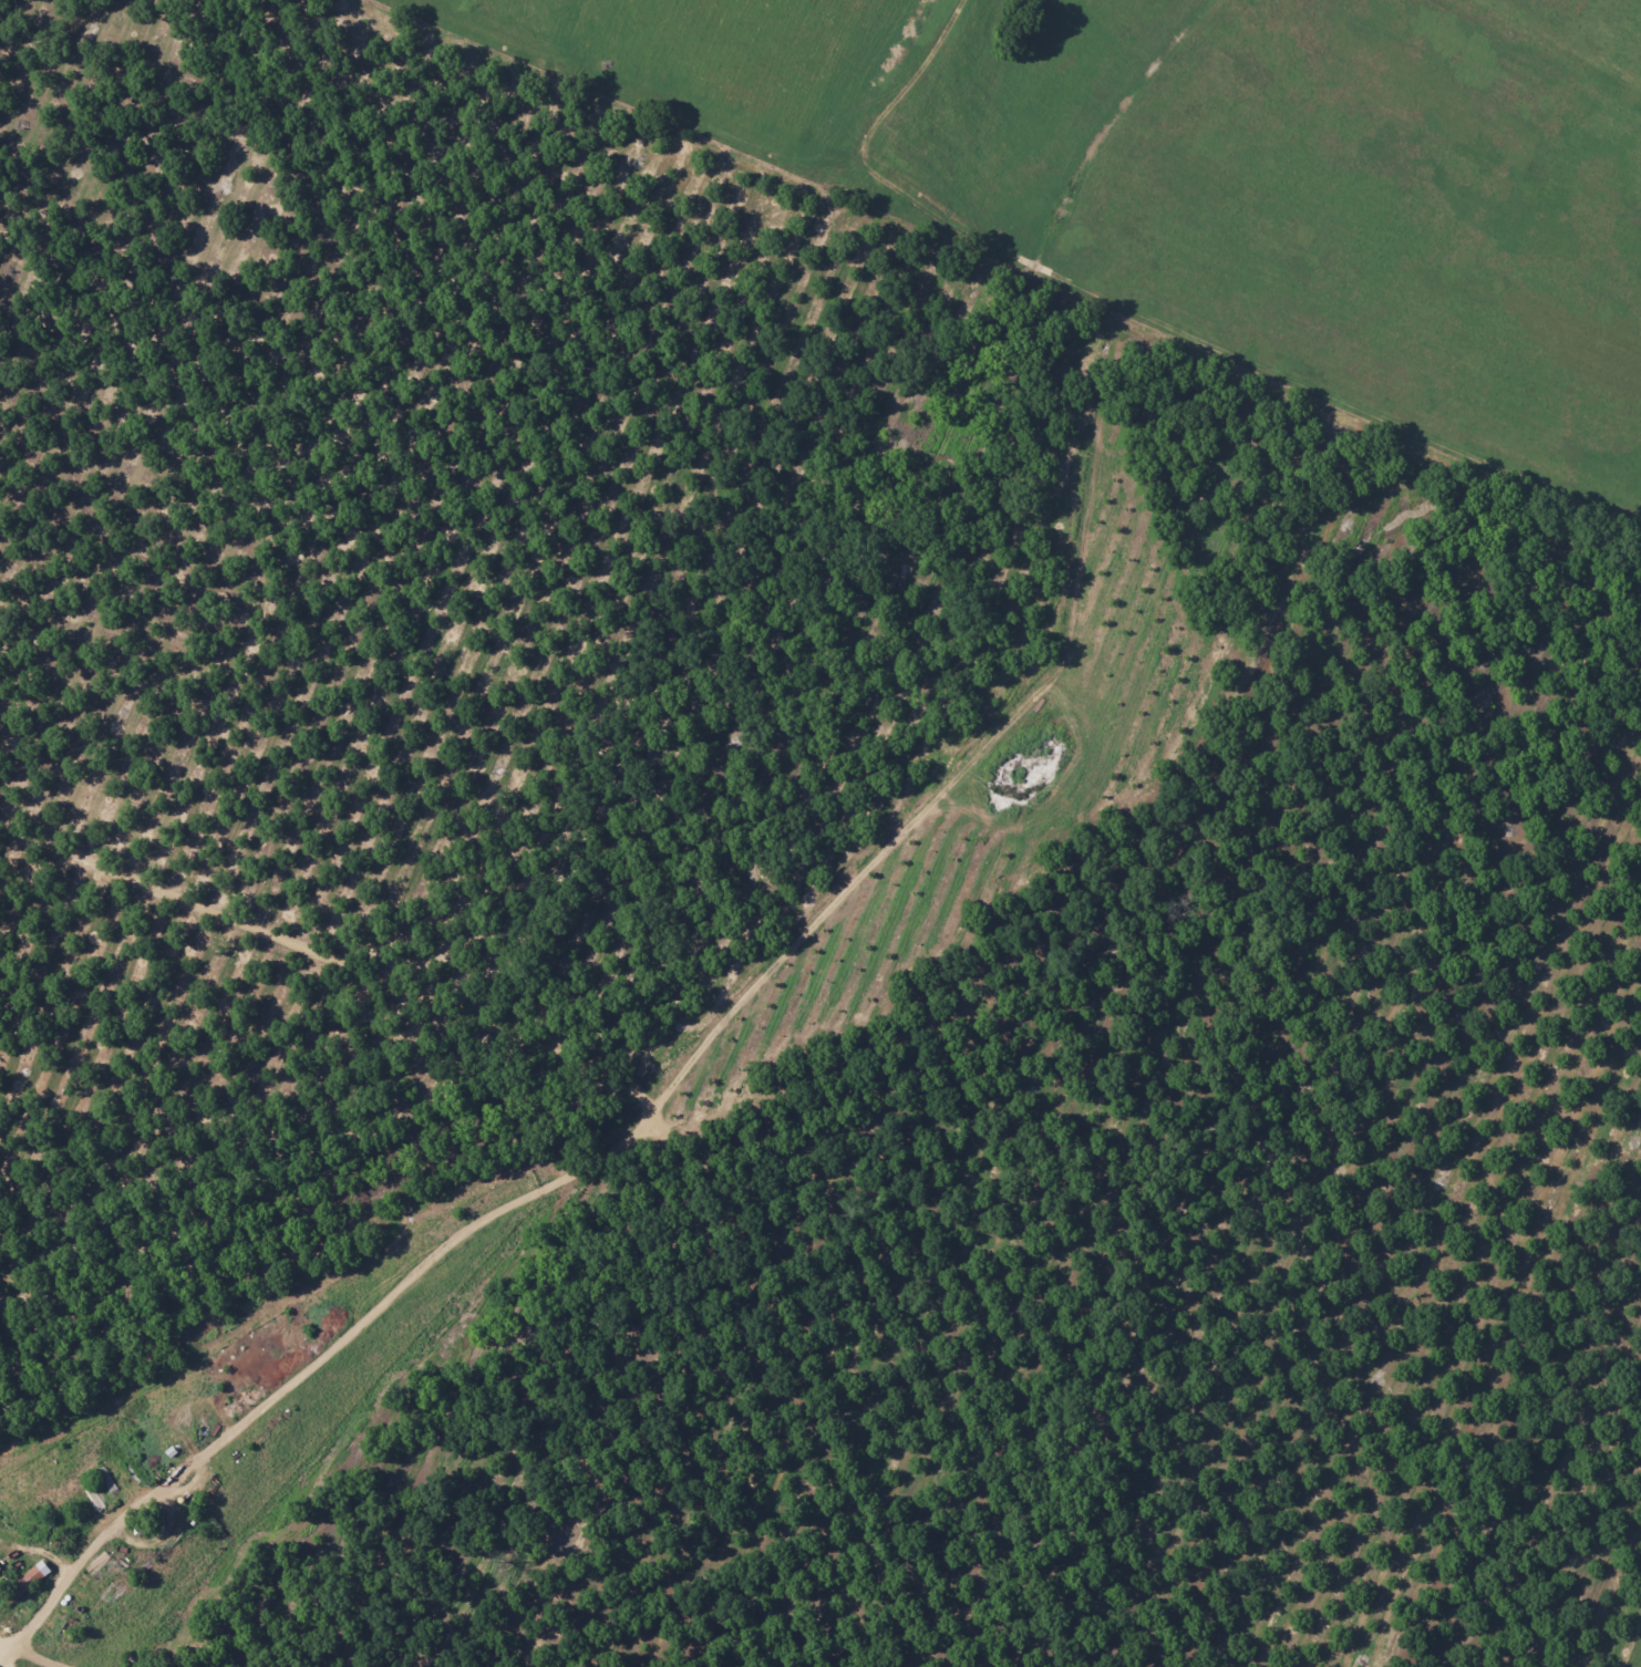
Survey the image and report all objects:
road: (332, 962)
road: (689, 1066)

